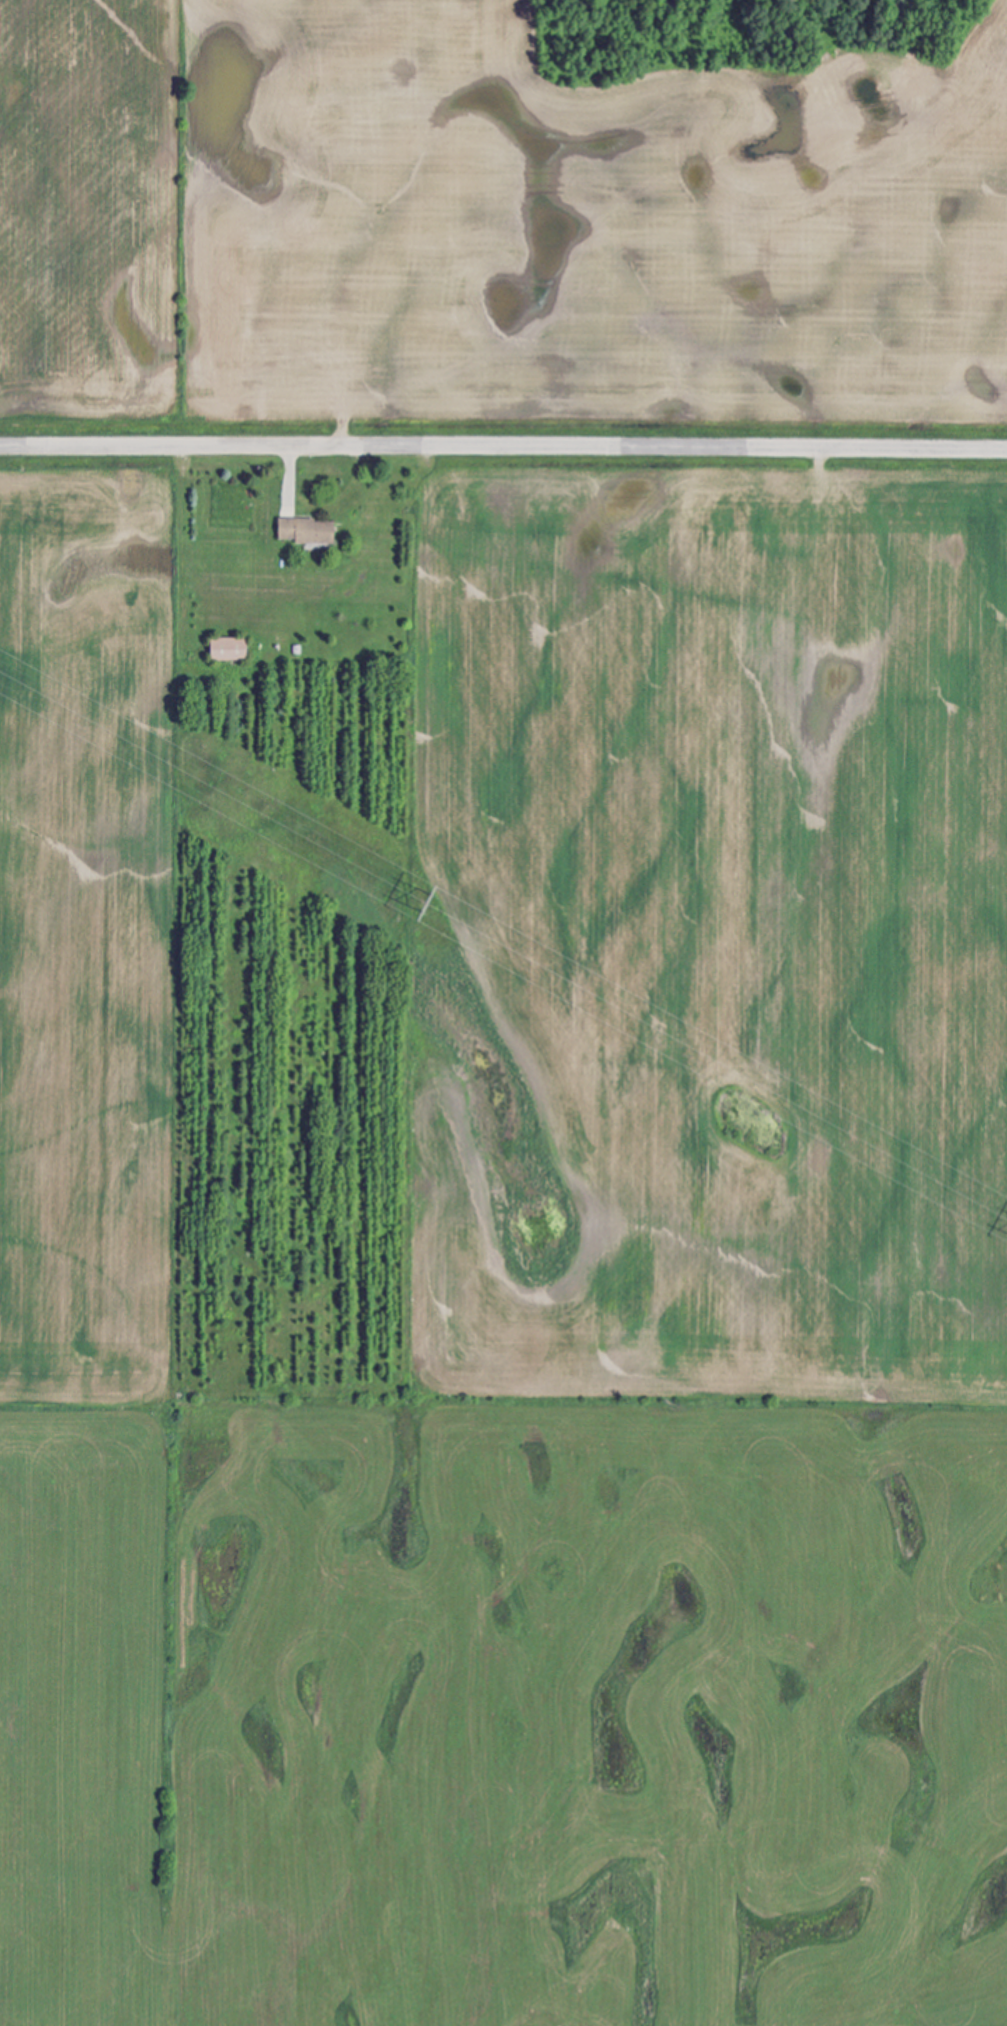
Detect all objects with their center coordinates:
road: (503, 444)
road: (290, 470)
building: (306, 531)
power tower: (428, 903)

